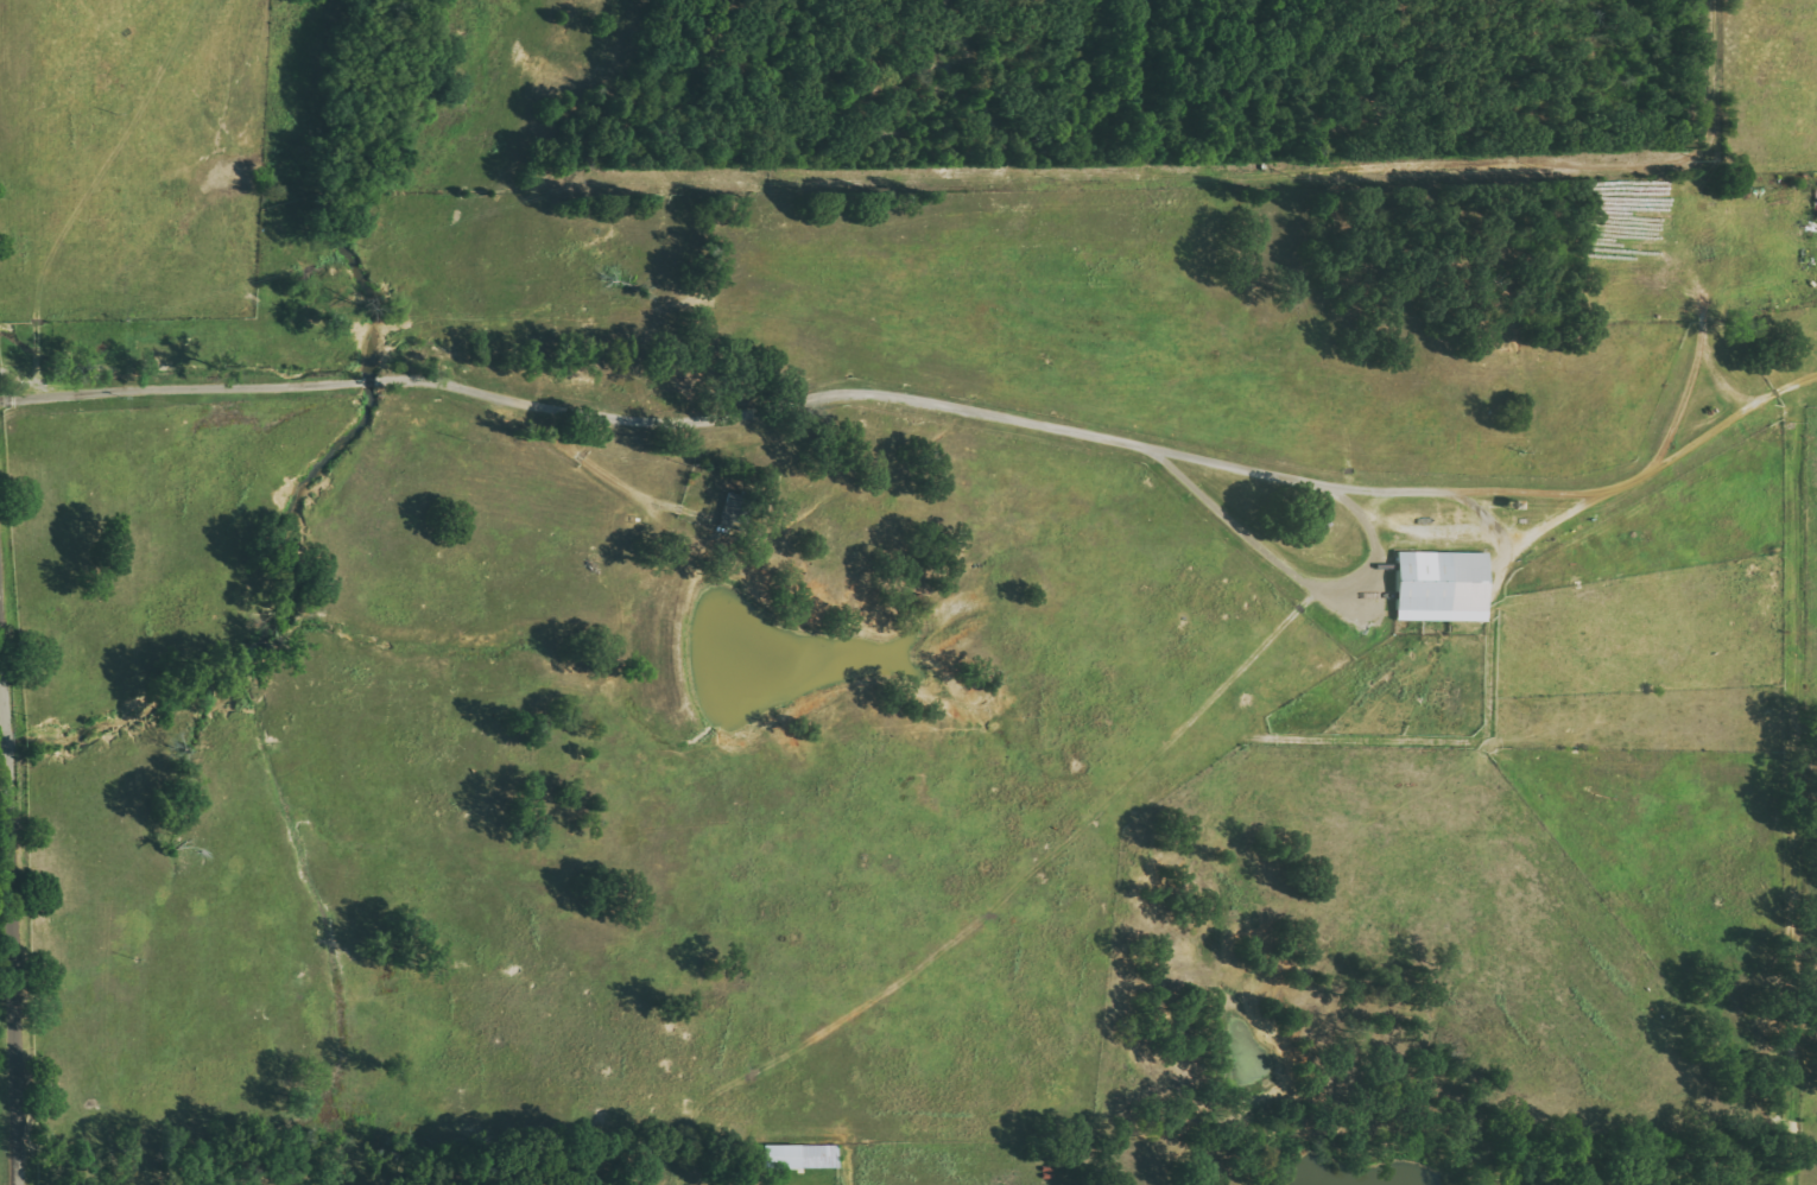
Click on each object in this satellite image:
road: (973, 5)
road: (1411, 5)
road: (895, 14)
road: (976, 21)
road: (900, 34)
road: (1251, 43)
road: (848, 45)
road: (957, 50)
road: (1331, 55)
road: (1376, 69)
park: (1139, 90)
theme park: (1139, 90)
road: (1305, 106)
road: (1220, 119)
road: (1412, 170)
road: (973, 176)
road: (585, 405)
road: (1384, 559)
building: (1444, 587)
road: (20, 844)
building: (803, 1157)

